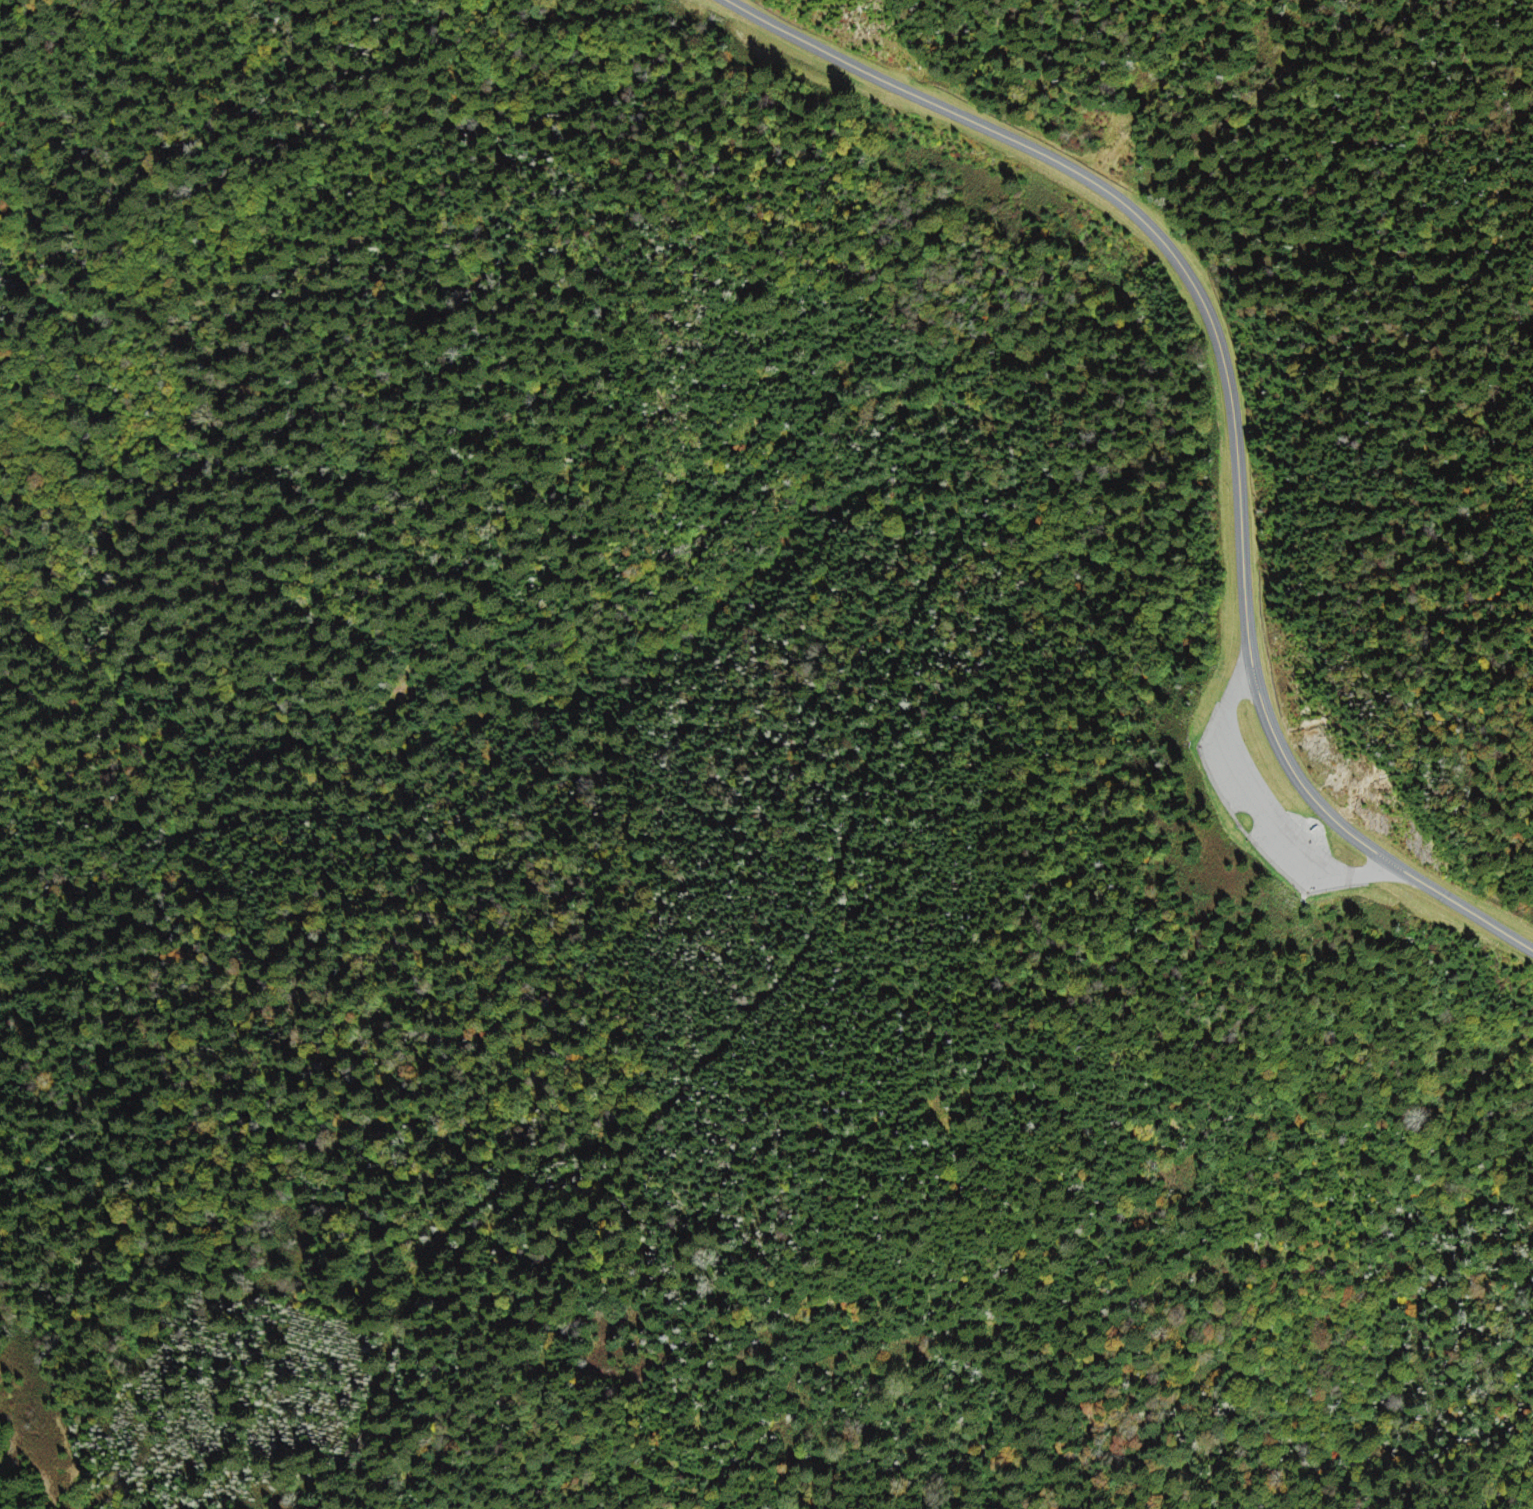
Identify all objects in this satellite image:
road: (1532, 238)
road: (1231, 402)
road: (1437, 619)
road: (1266, 821)

